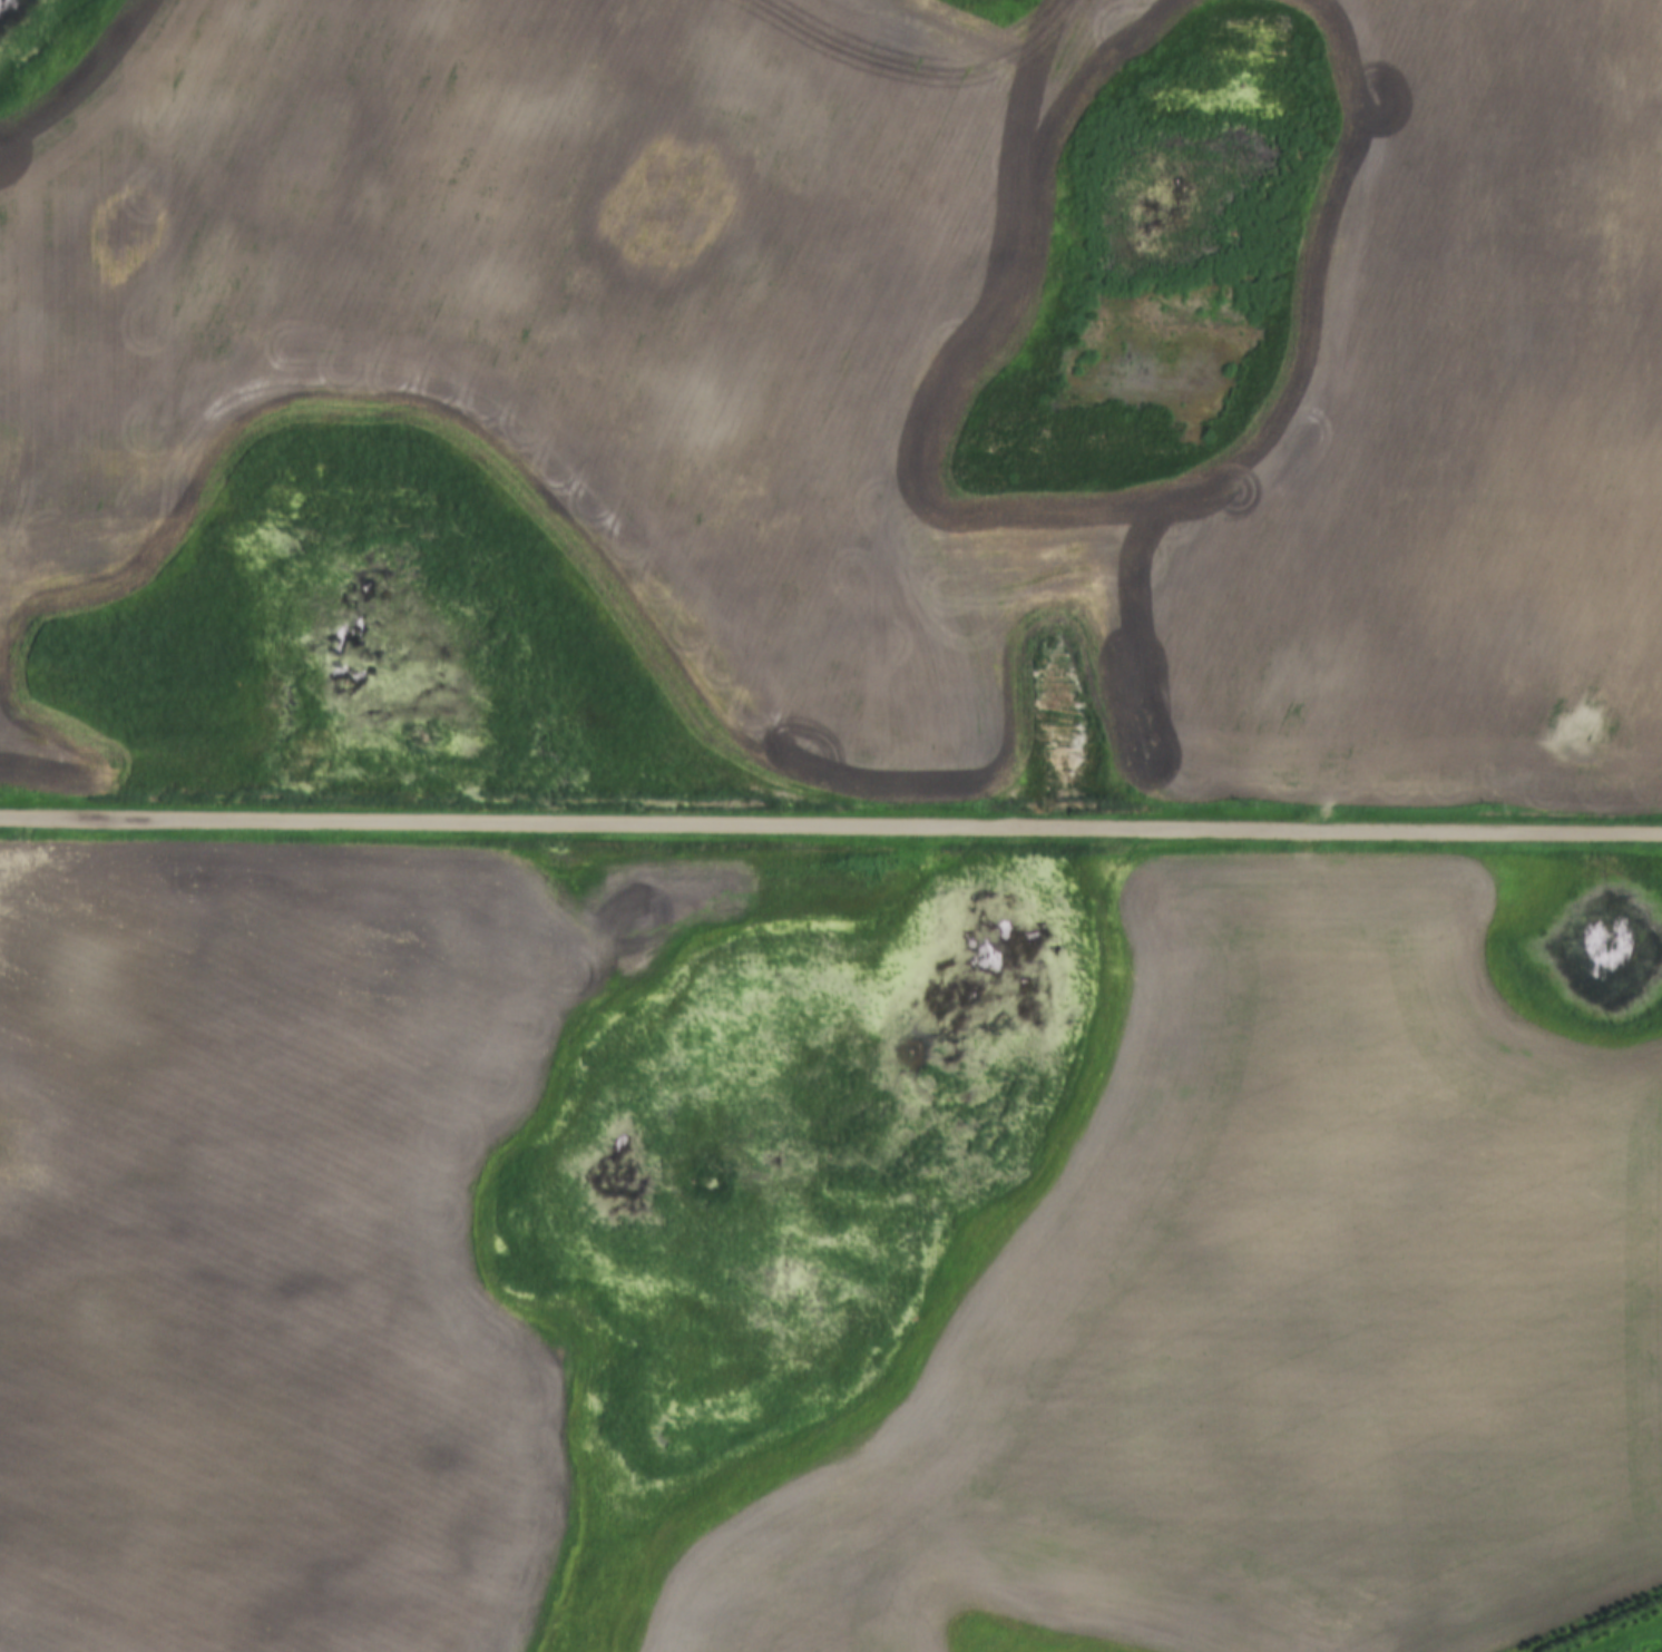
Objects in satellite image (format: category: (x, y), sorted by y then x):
road: (831, 825)

